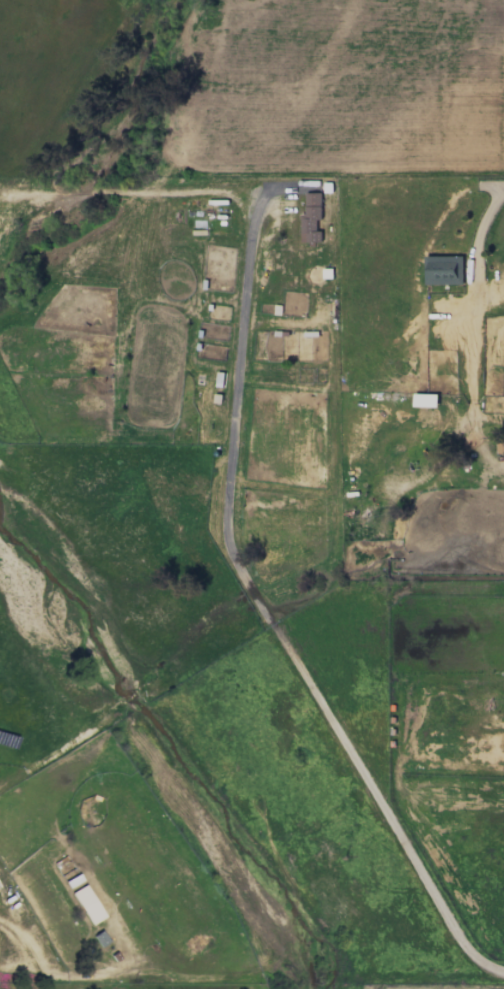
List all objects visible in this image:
park: (67, 102)
road: (495, 185)
building: (311, 218)
building: (444, 269)
building: (426, 399)
road: (260, 599)
building: (88, 904)
building: (100, 938)
road: (68, 975)

